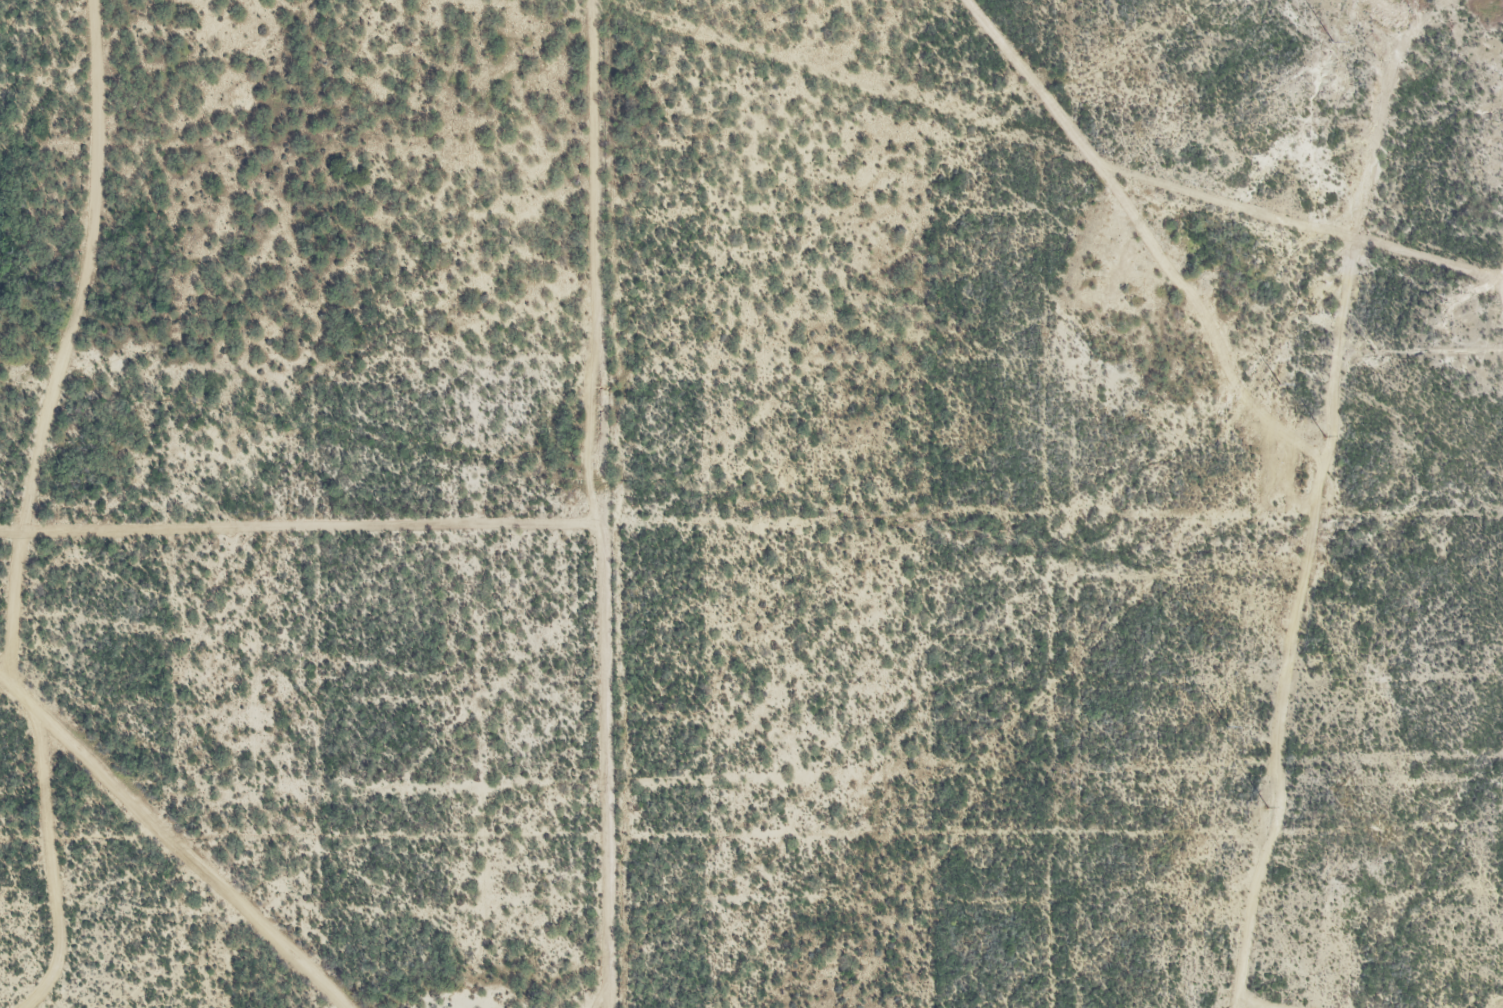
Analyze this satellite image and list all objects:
power tower: (1332, 43)
power tower: (1279, 385)
power tower: (1325, 437)
power tower: (1226, 726)
power tower: (1267, 808)

